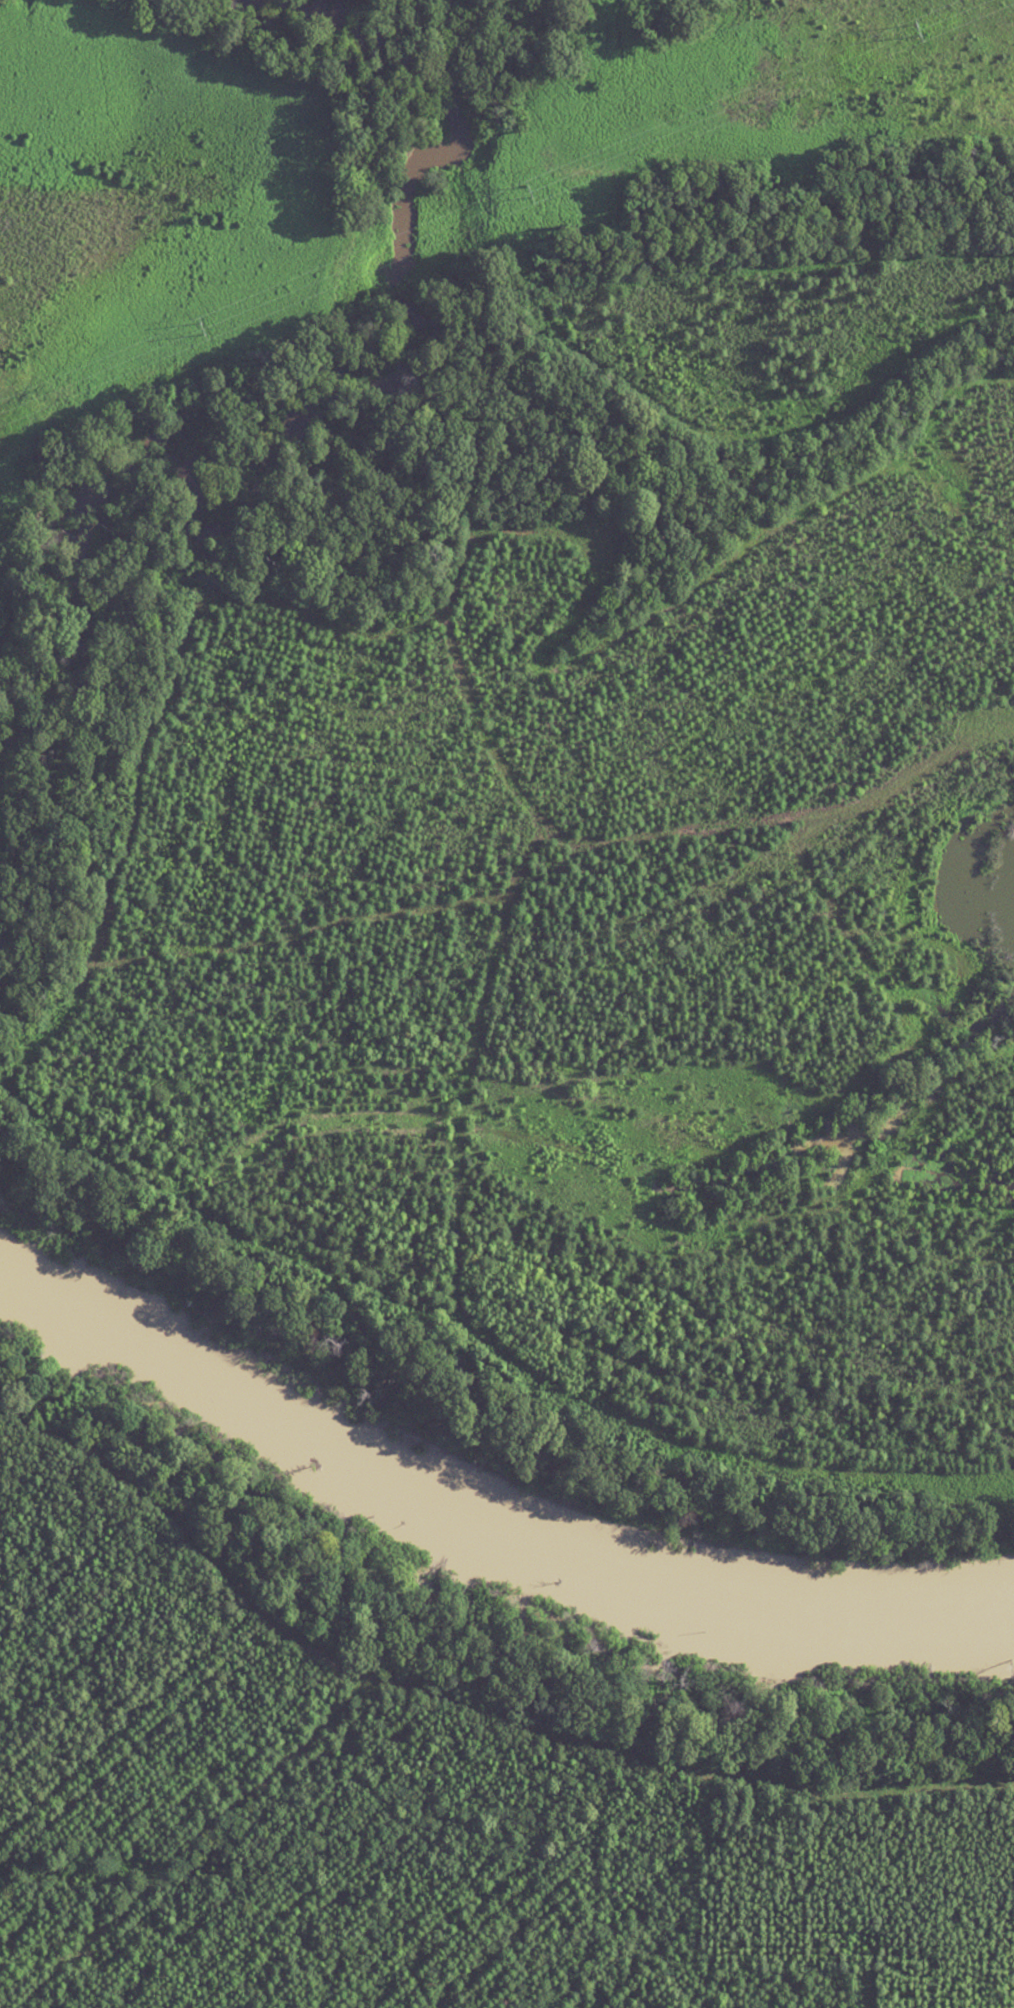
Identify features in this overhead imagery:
power tower: (913, 31)
road: (916, 176)
power tower: (531, 189)
power tower: (199, 329)
river: (481, 1529)

